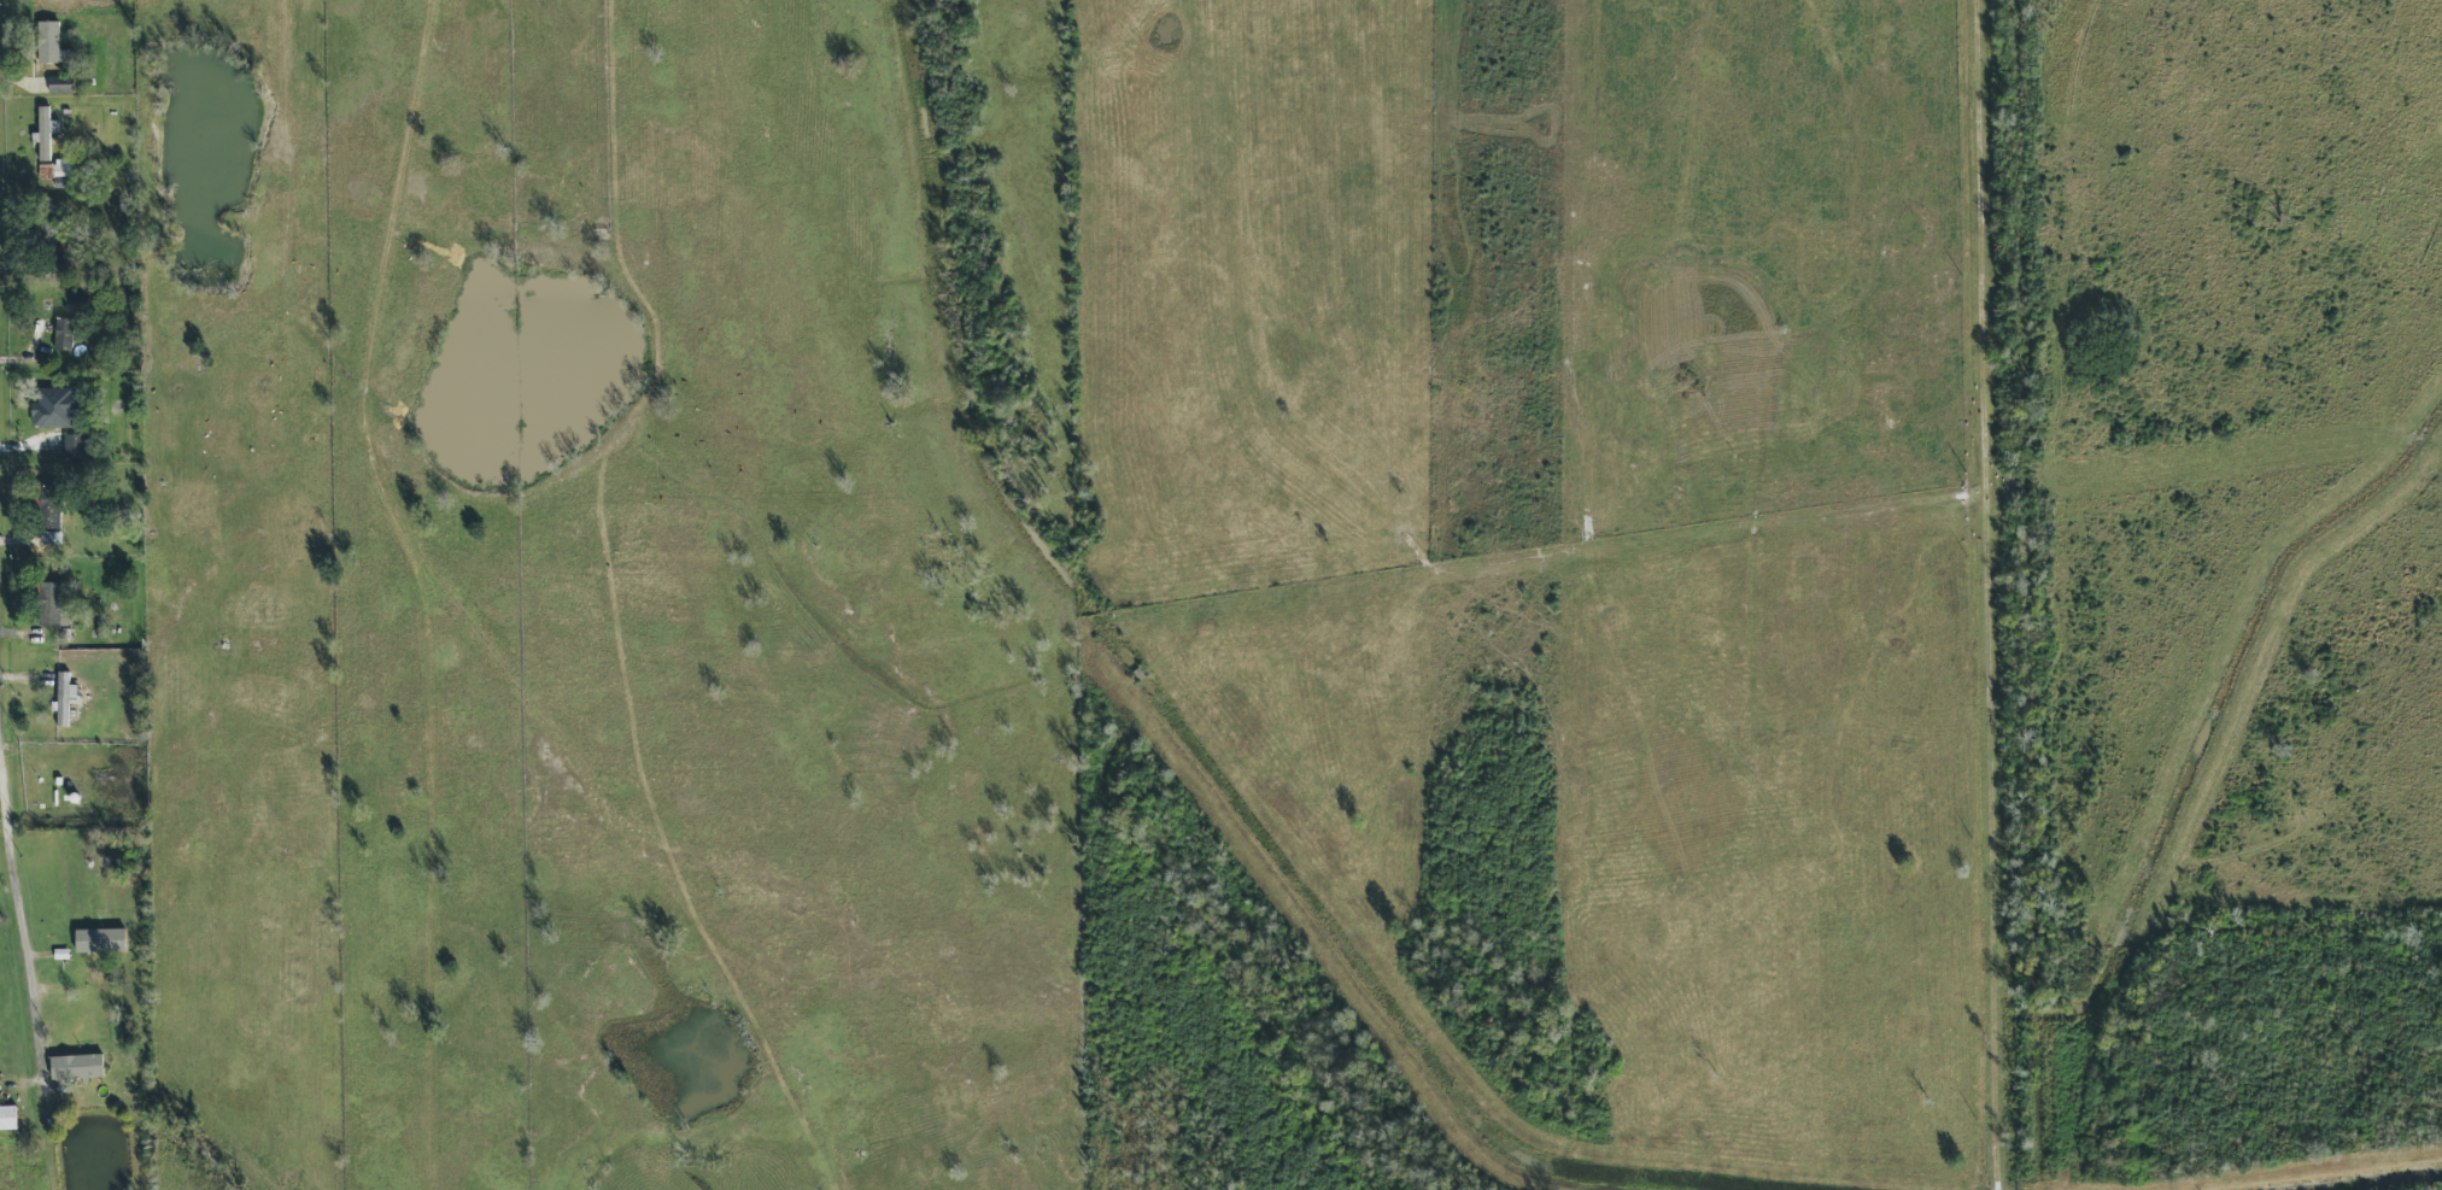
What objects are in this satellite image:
building: (51, 43)
building: (62, 84)
building: (43, 134)
building: (62, 168)
building: (64, 334)
building: (57, 408)
building: (74, 445)
building: (51, 506)
building: (47, 538)
road: (1993, 580)
building: (49, 605)
building: (64, 698)
road: (18, 903)
building: (100, 940)
building: (77, 1067)
building: (8, 1118)

